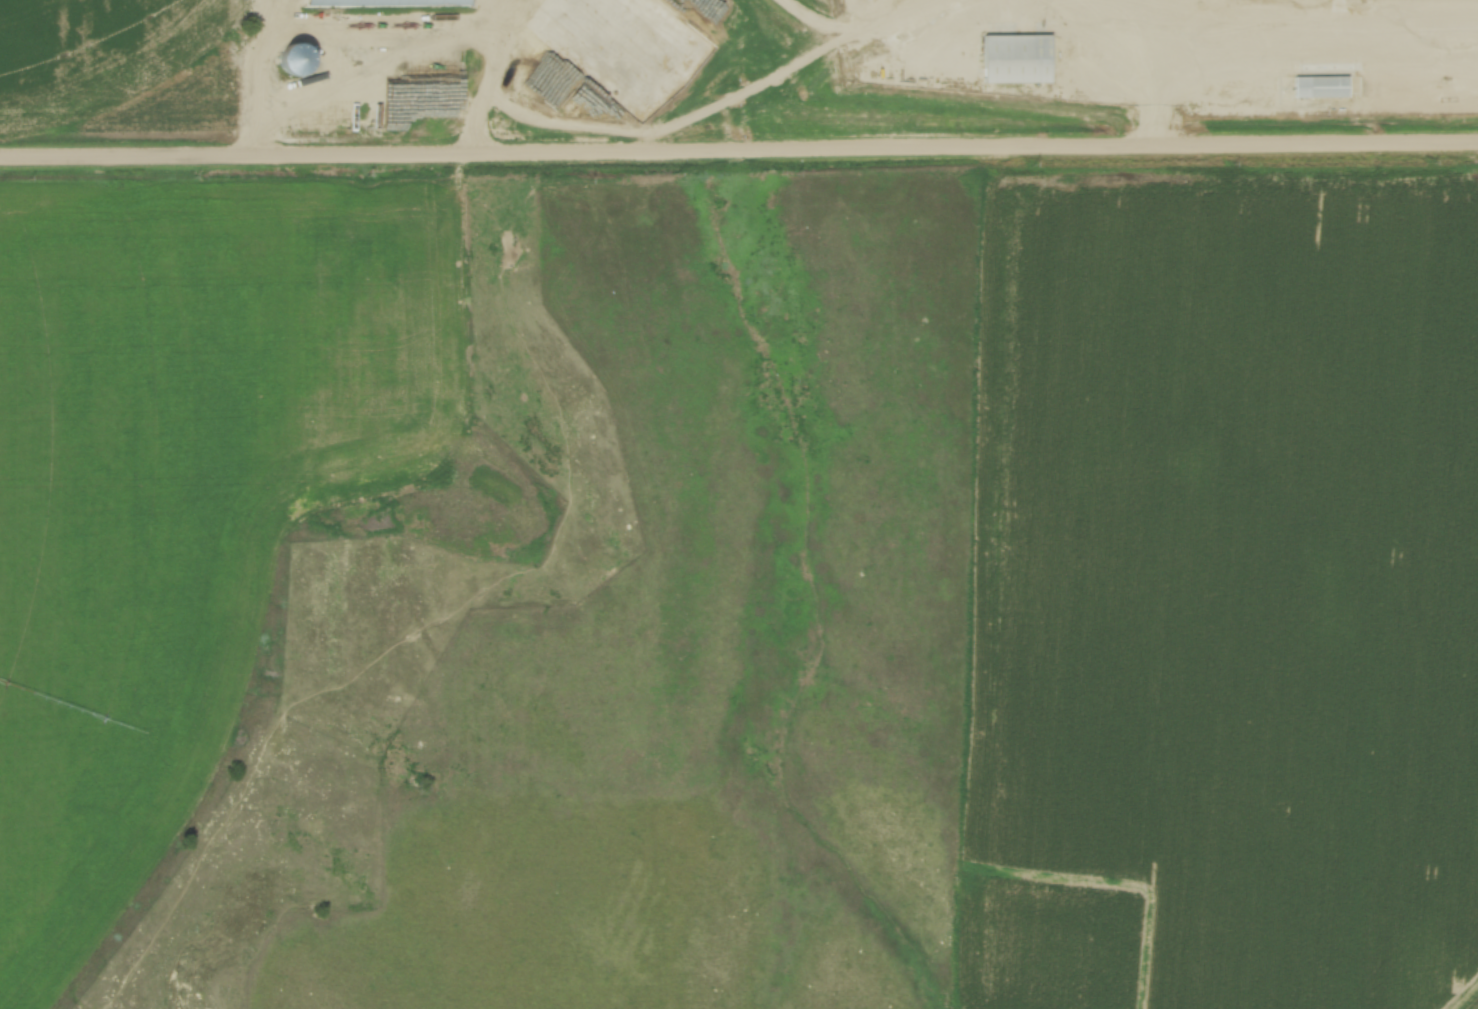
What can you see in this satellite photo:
building: (385, 2)
road: (1275, 35)
building: (1018, 58)
building: (297, 60)
building: (1322, 87)
road: (1157, 94)
road: (489, 95)
road: (712, 113)
road: (739, 155)

